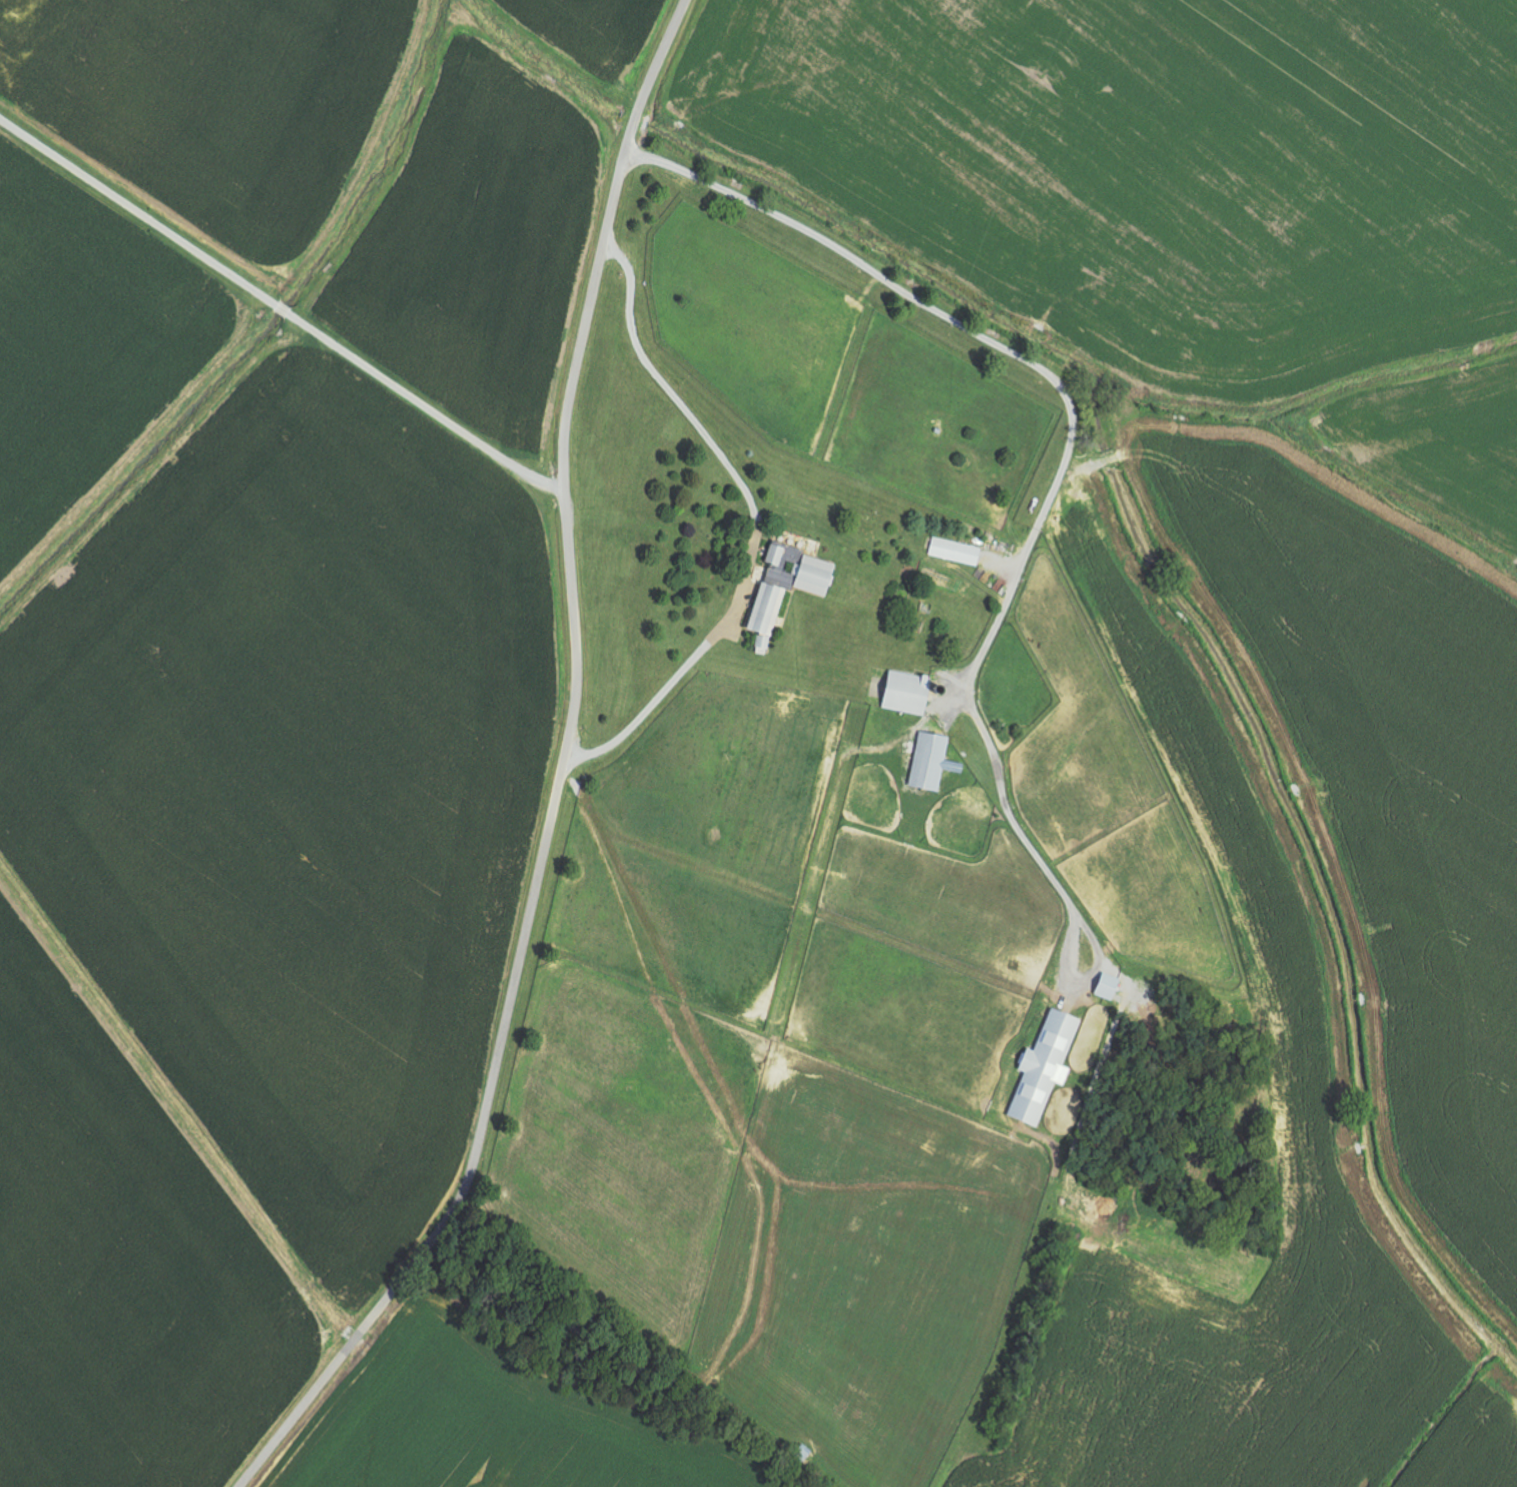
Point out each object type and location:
road: (281, 306)
road: (1052, 497)
road: (756, 520)
building: (956, 552)
building: (776, 554)
building: (815, 575)
building: (767, 614)
building: (908, 693)
building: (930, 761)
road: (560, 777)
building: (1108, 986)
building: (1045, 1067)

